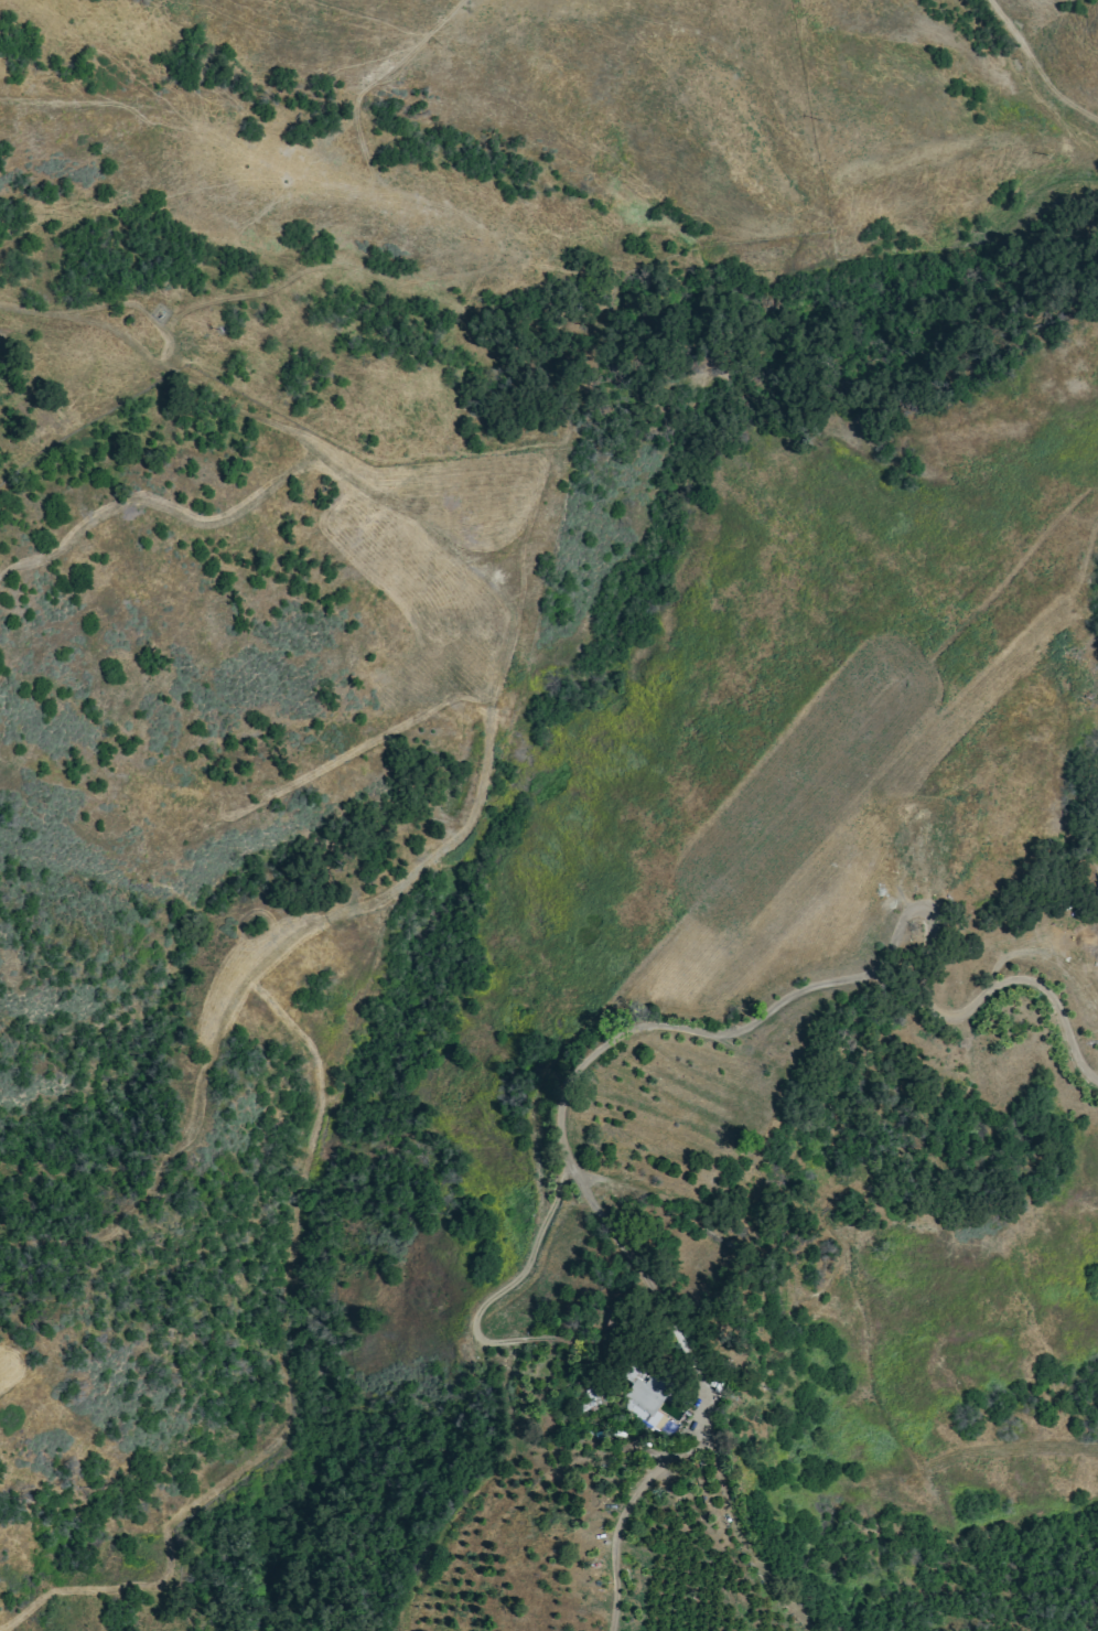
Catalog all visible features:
road: (1035, 67)
road: (728, 1031)
building: (646, 1398)
road: (515, 1424)
road: (650, 1476)

